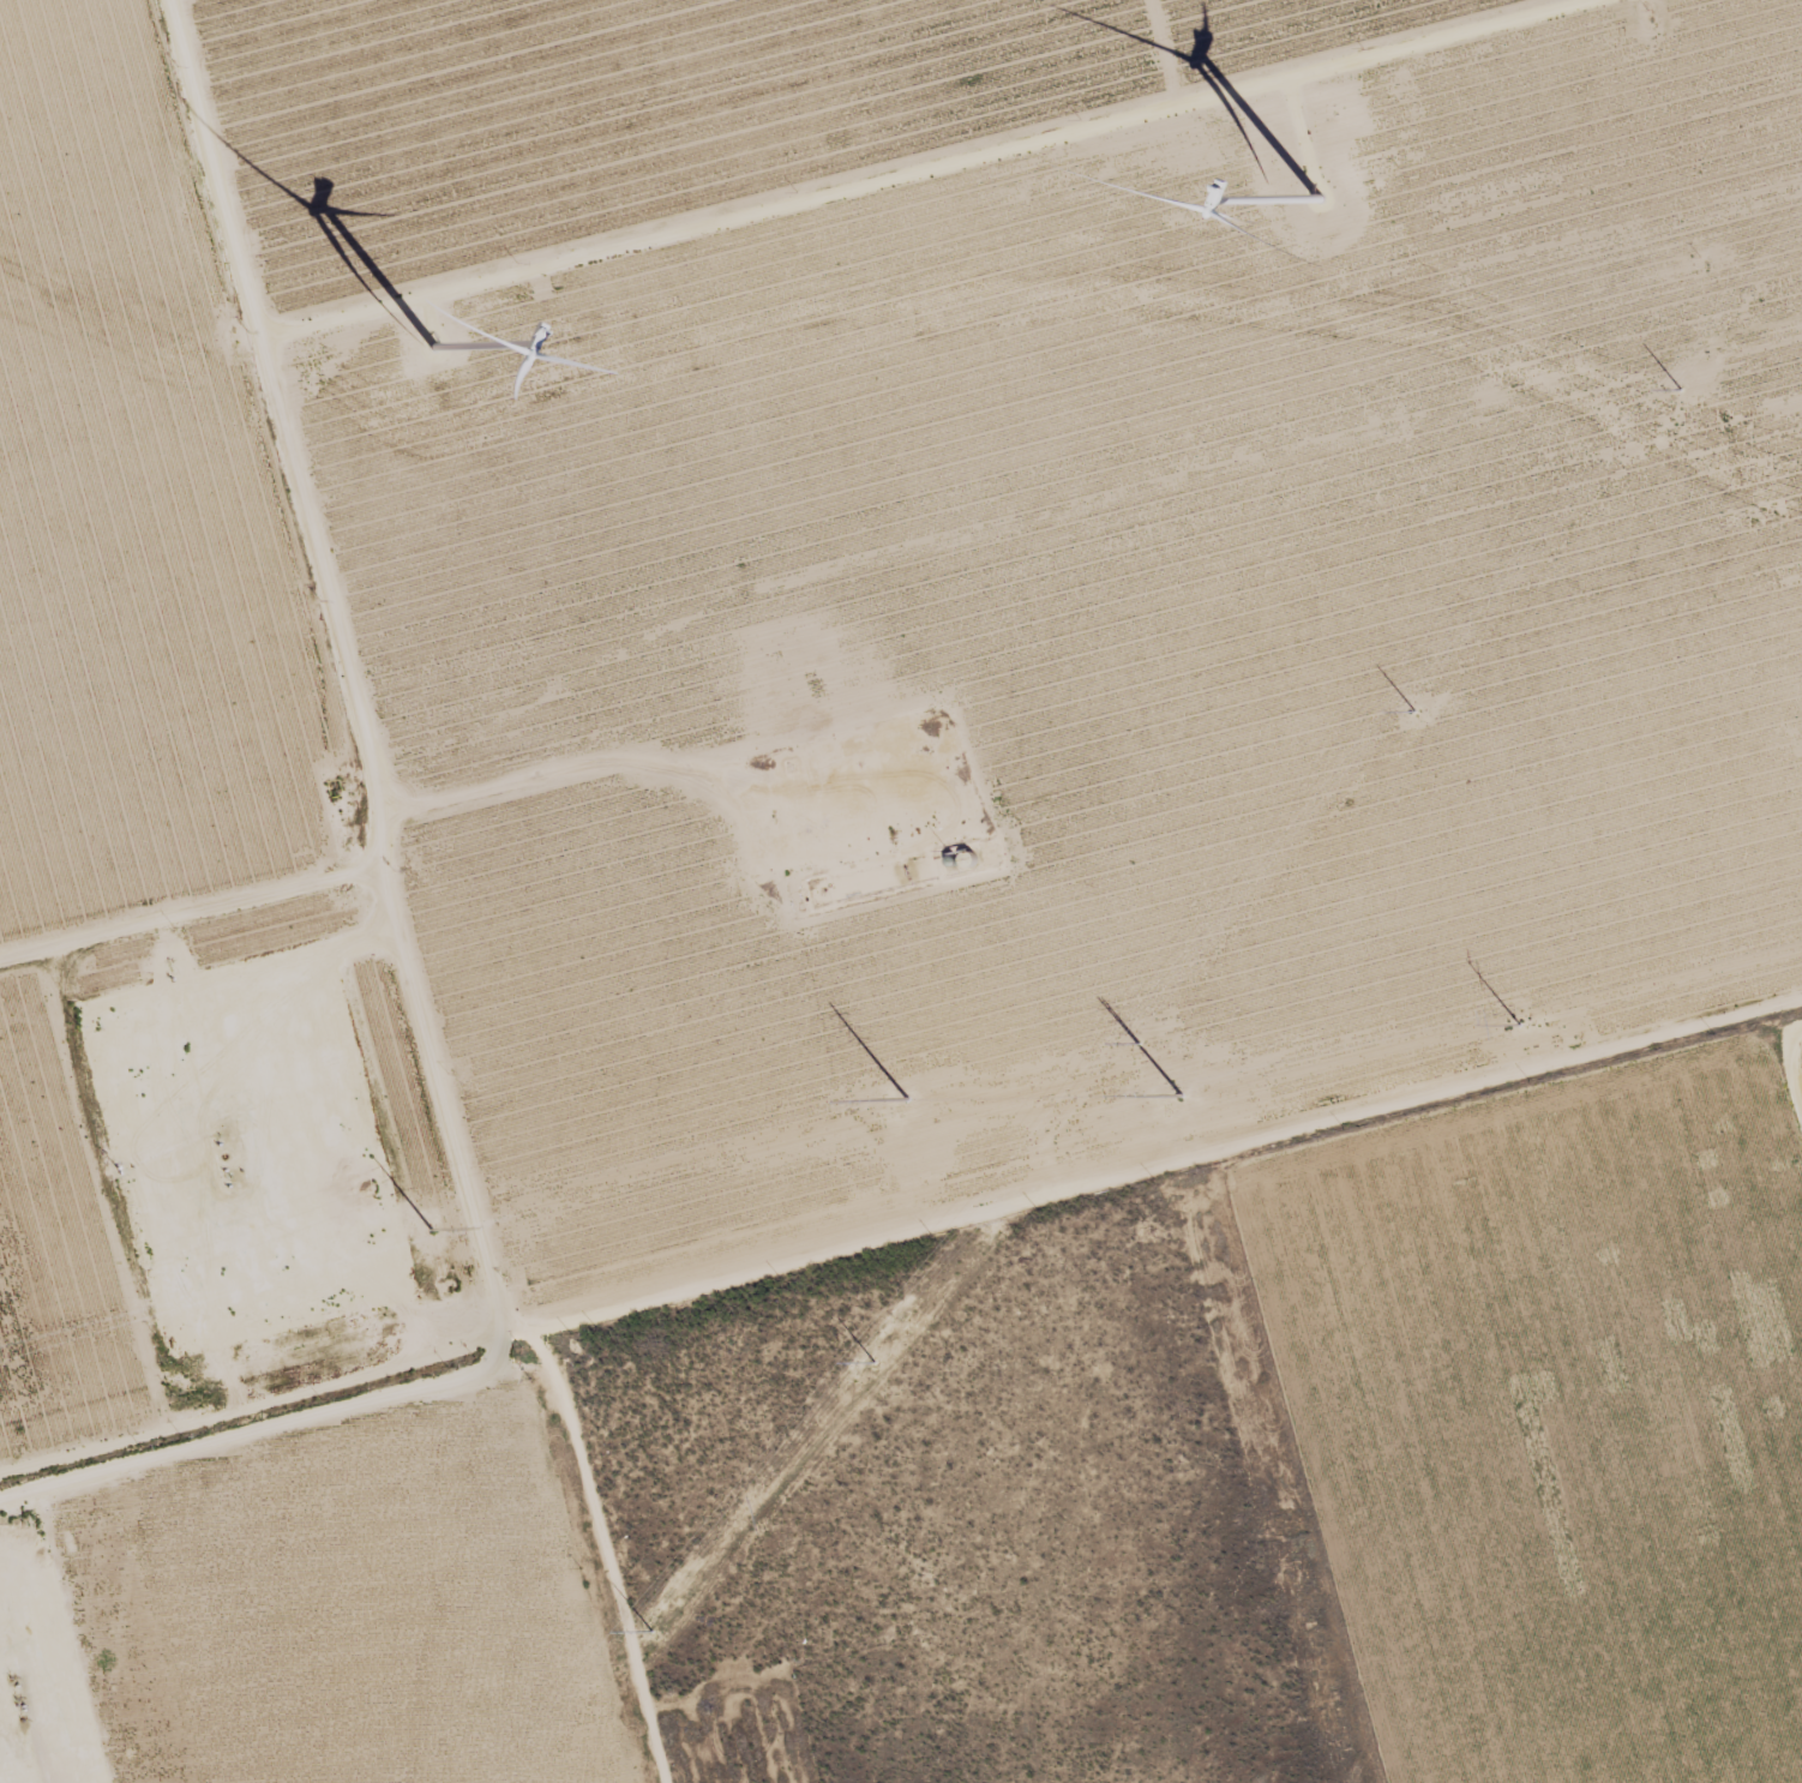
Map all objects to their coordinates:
wind turbine: (1305, 197)
wind turbine: (428, 360)
power tower: (1689, 379)
power tower: (1423, 700)
road: (396, 901)
power tower: (1520, 1021)
power tower: (1147, 1034)
power tower: (1182, 1094)
power tower: (908, 1097)
power tower: (432, 1229)
power tower: (881, 1355)
power tower: (618, 1670)

